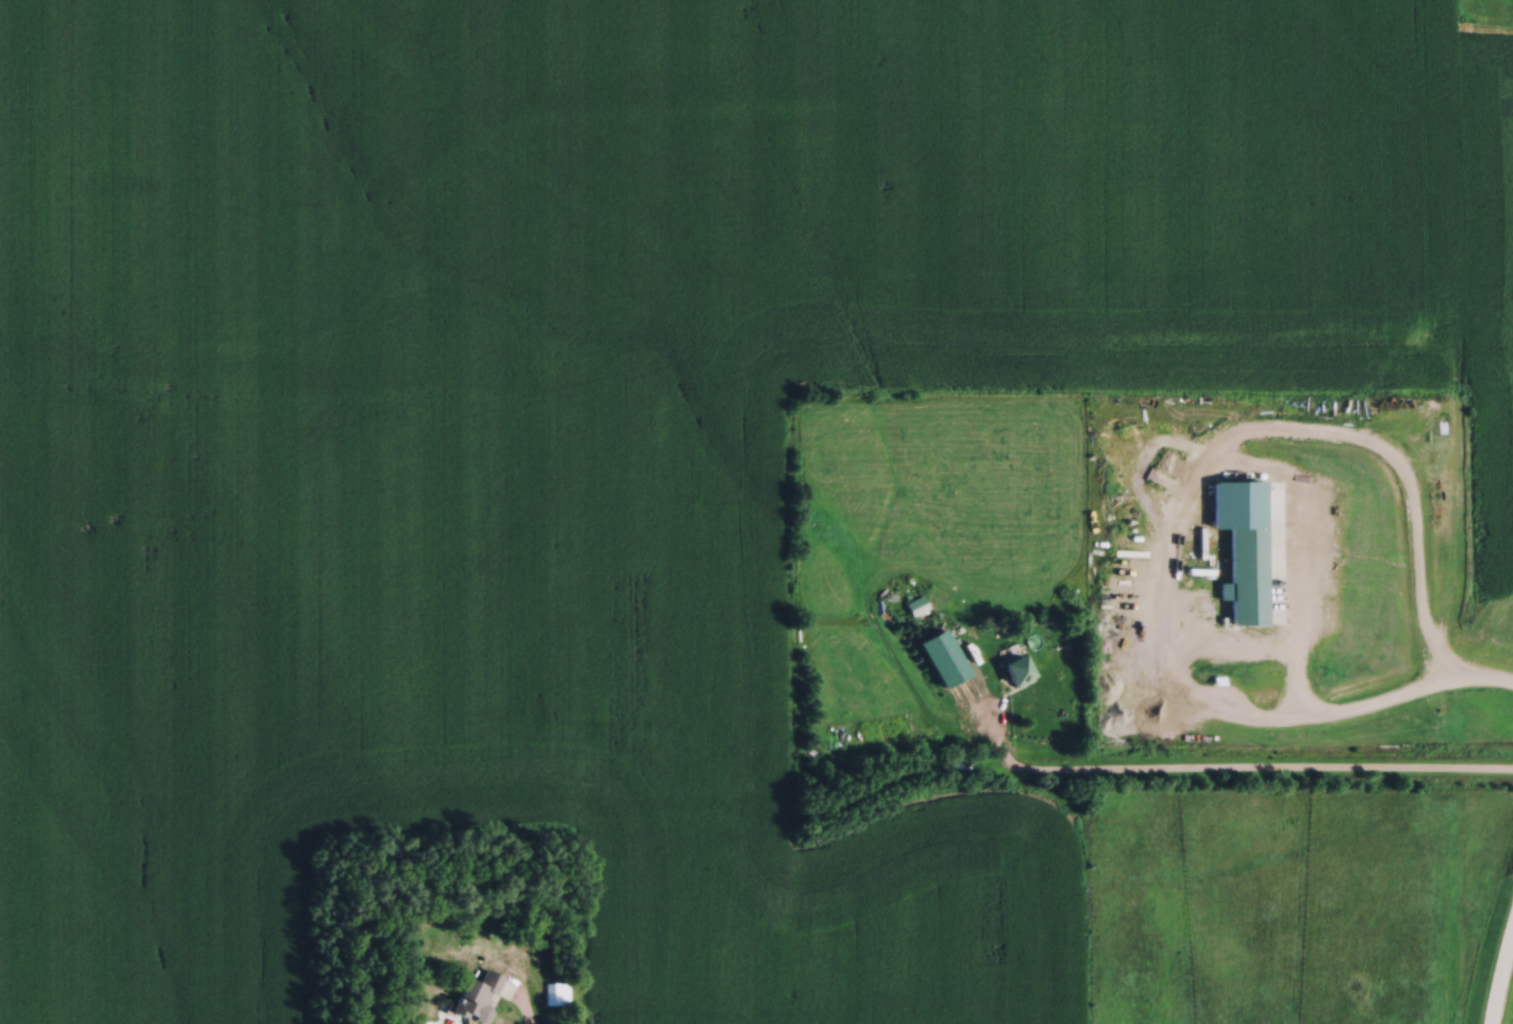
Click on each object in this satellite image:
road: (1178, 507)
building: (1247, 572)
building: (949, 664)
building: (1017, 664)
road: (1491, 678)
road: (1255, 769)
road: (1499, 979)
building: (555, 989)
building: (476, 991)
road: (529, 1009)

